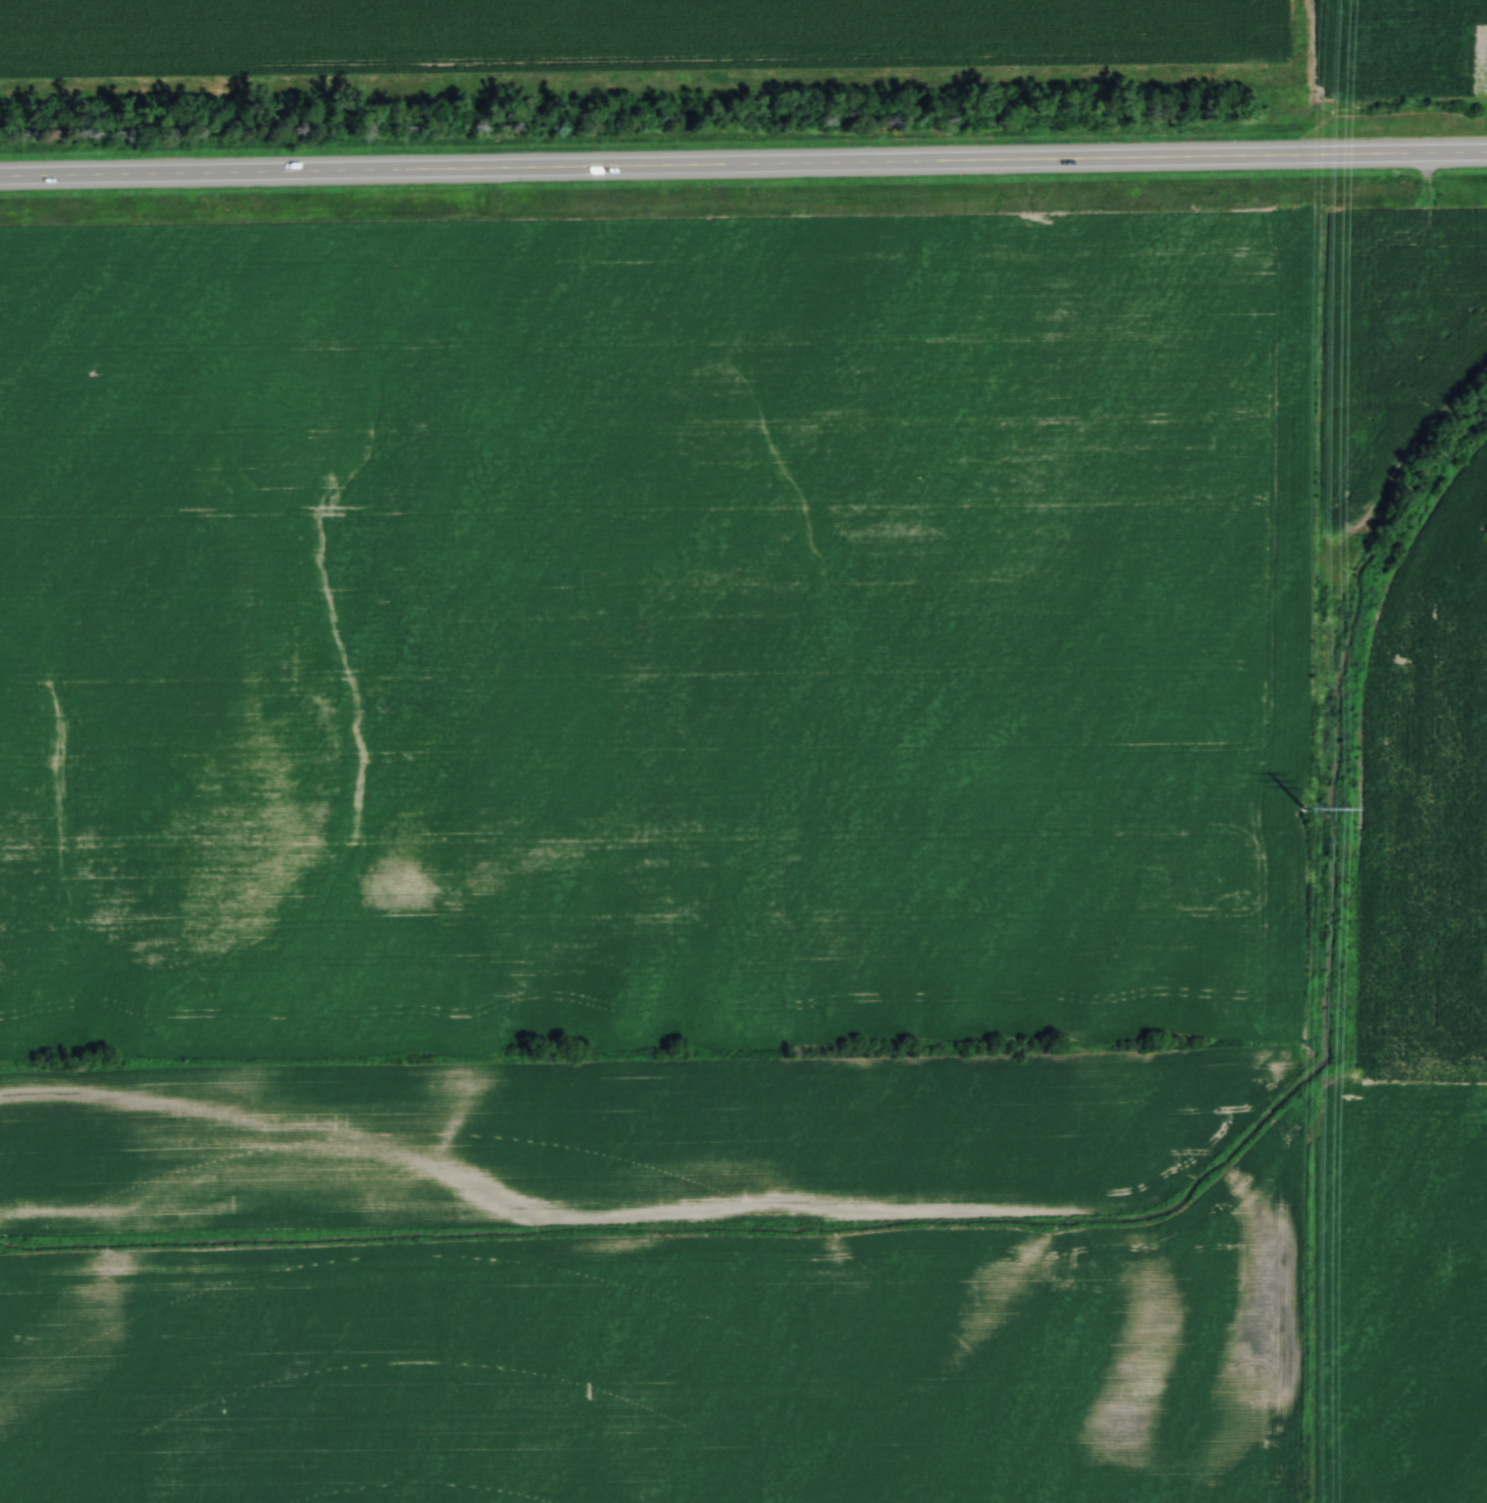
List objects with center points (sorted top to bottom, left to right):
road: (743, 164)
power tower: (1303, 808)

